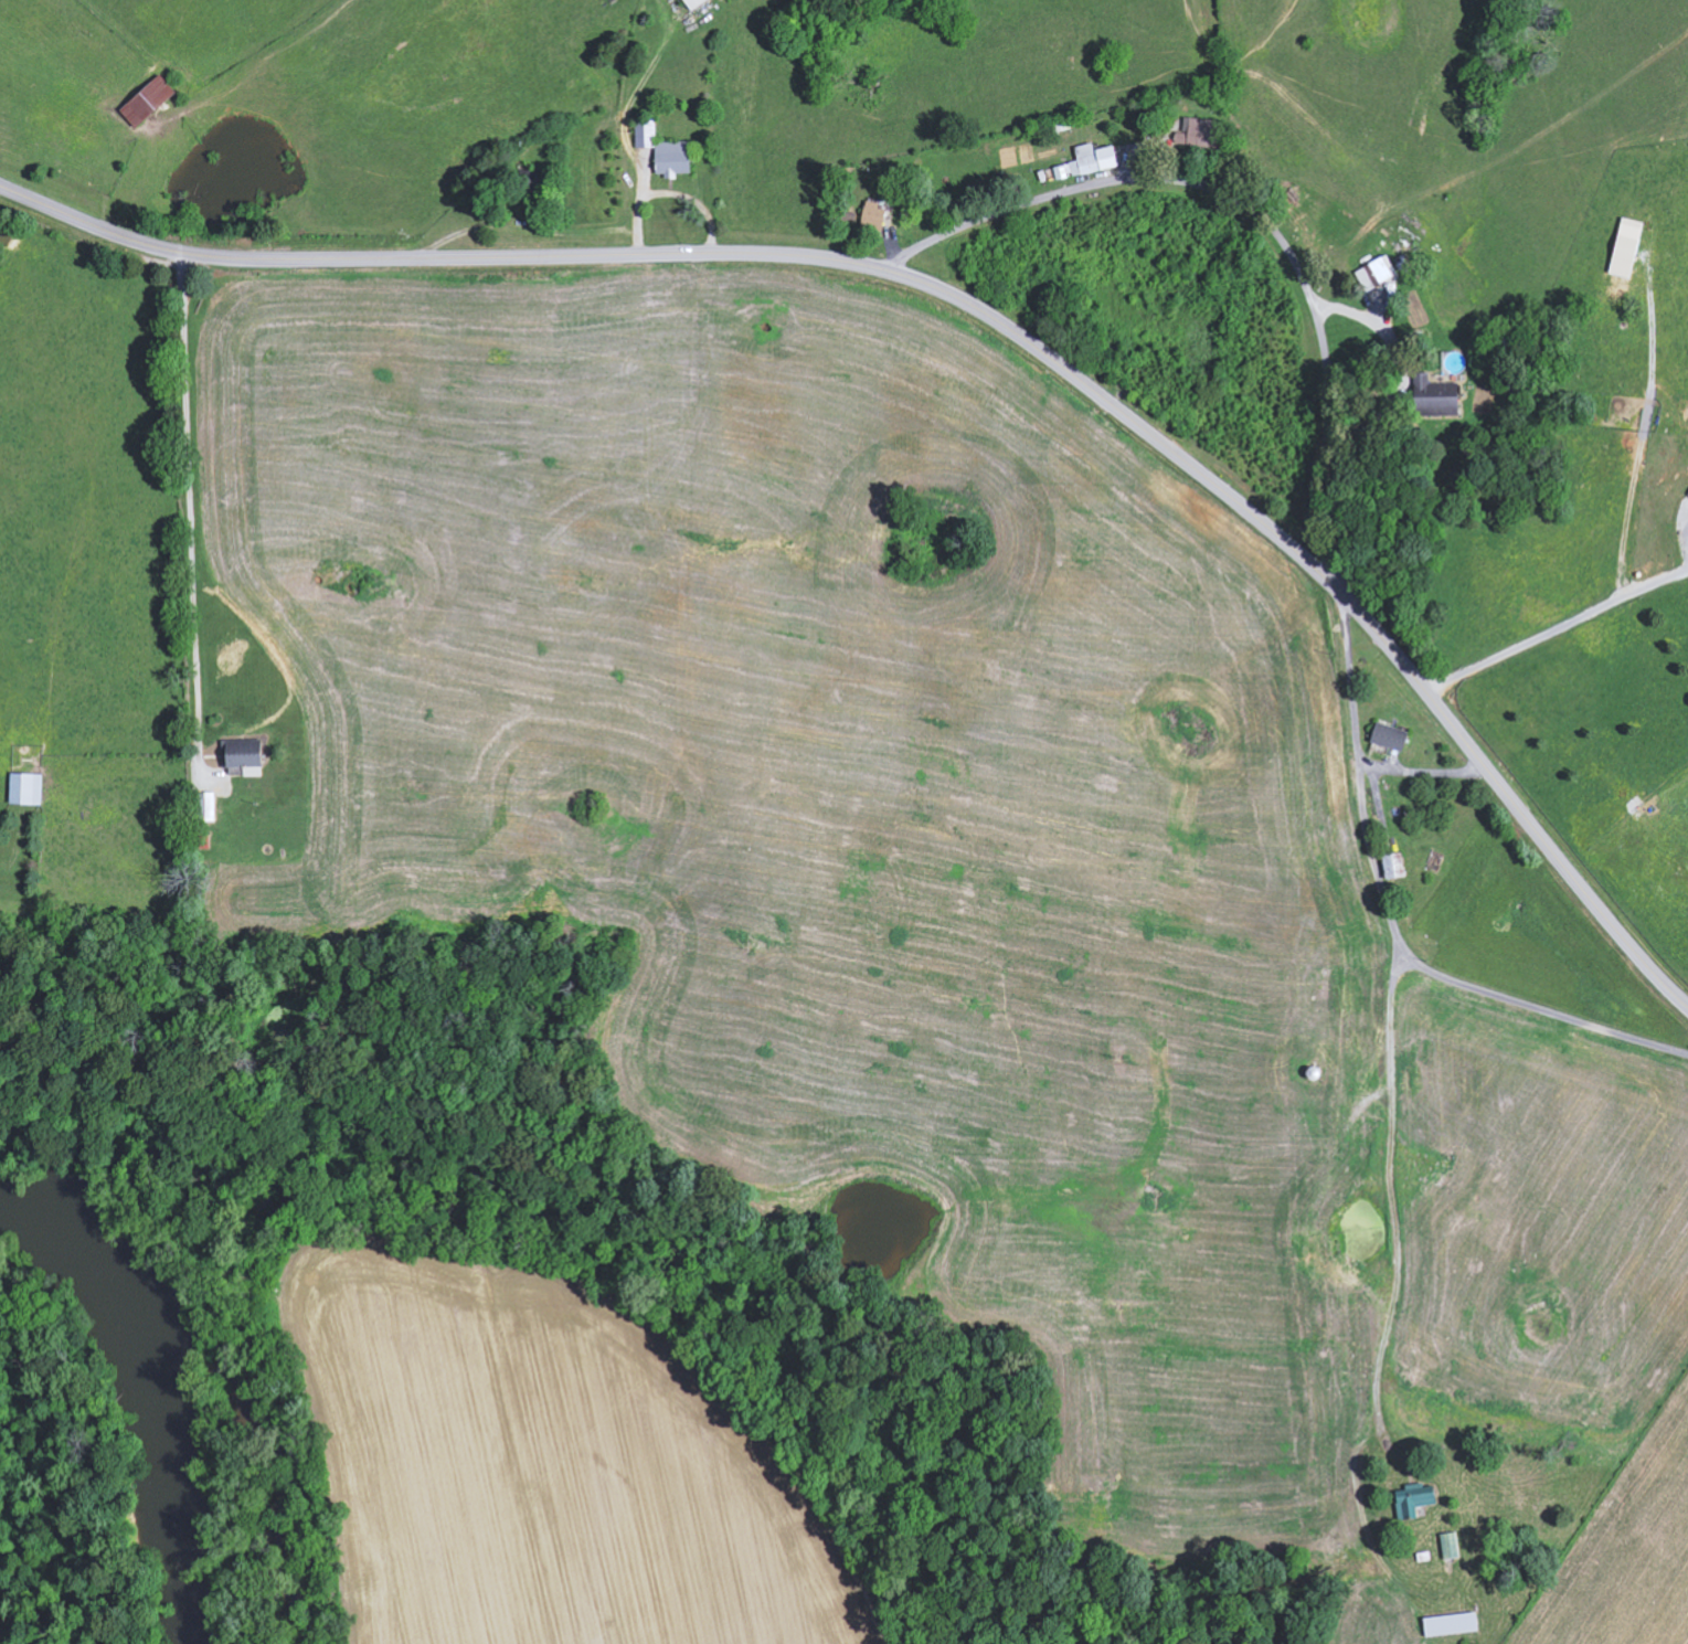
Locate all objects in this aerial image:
building: (693, 2)
building: (147, 99)
building: (1199, 131)
building: (663, 149)
building: (1089, 160)
building: (530, 179)
road: (1254, 209)
building: (873, 215)
building: (1628, 241)
building: (1376, 272)
road: (977, 308)
building: (1436, 396)
road: (190, 513)
road: (1557, 633)
building: (1390, 736)
road: (1420, 773)
road: (1359, 781)
building: (25, 788)
building: (206, 806)
building: (1393, 866)
road: (1543, 1010)
road: (1391, 1189)
river: (139, 1421)
building: (1413, 1499)
building: (1451, 1623)

